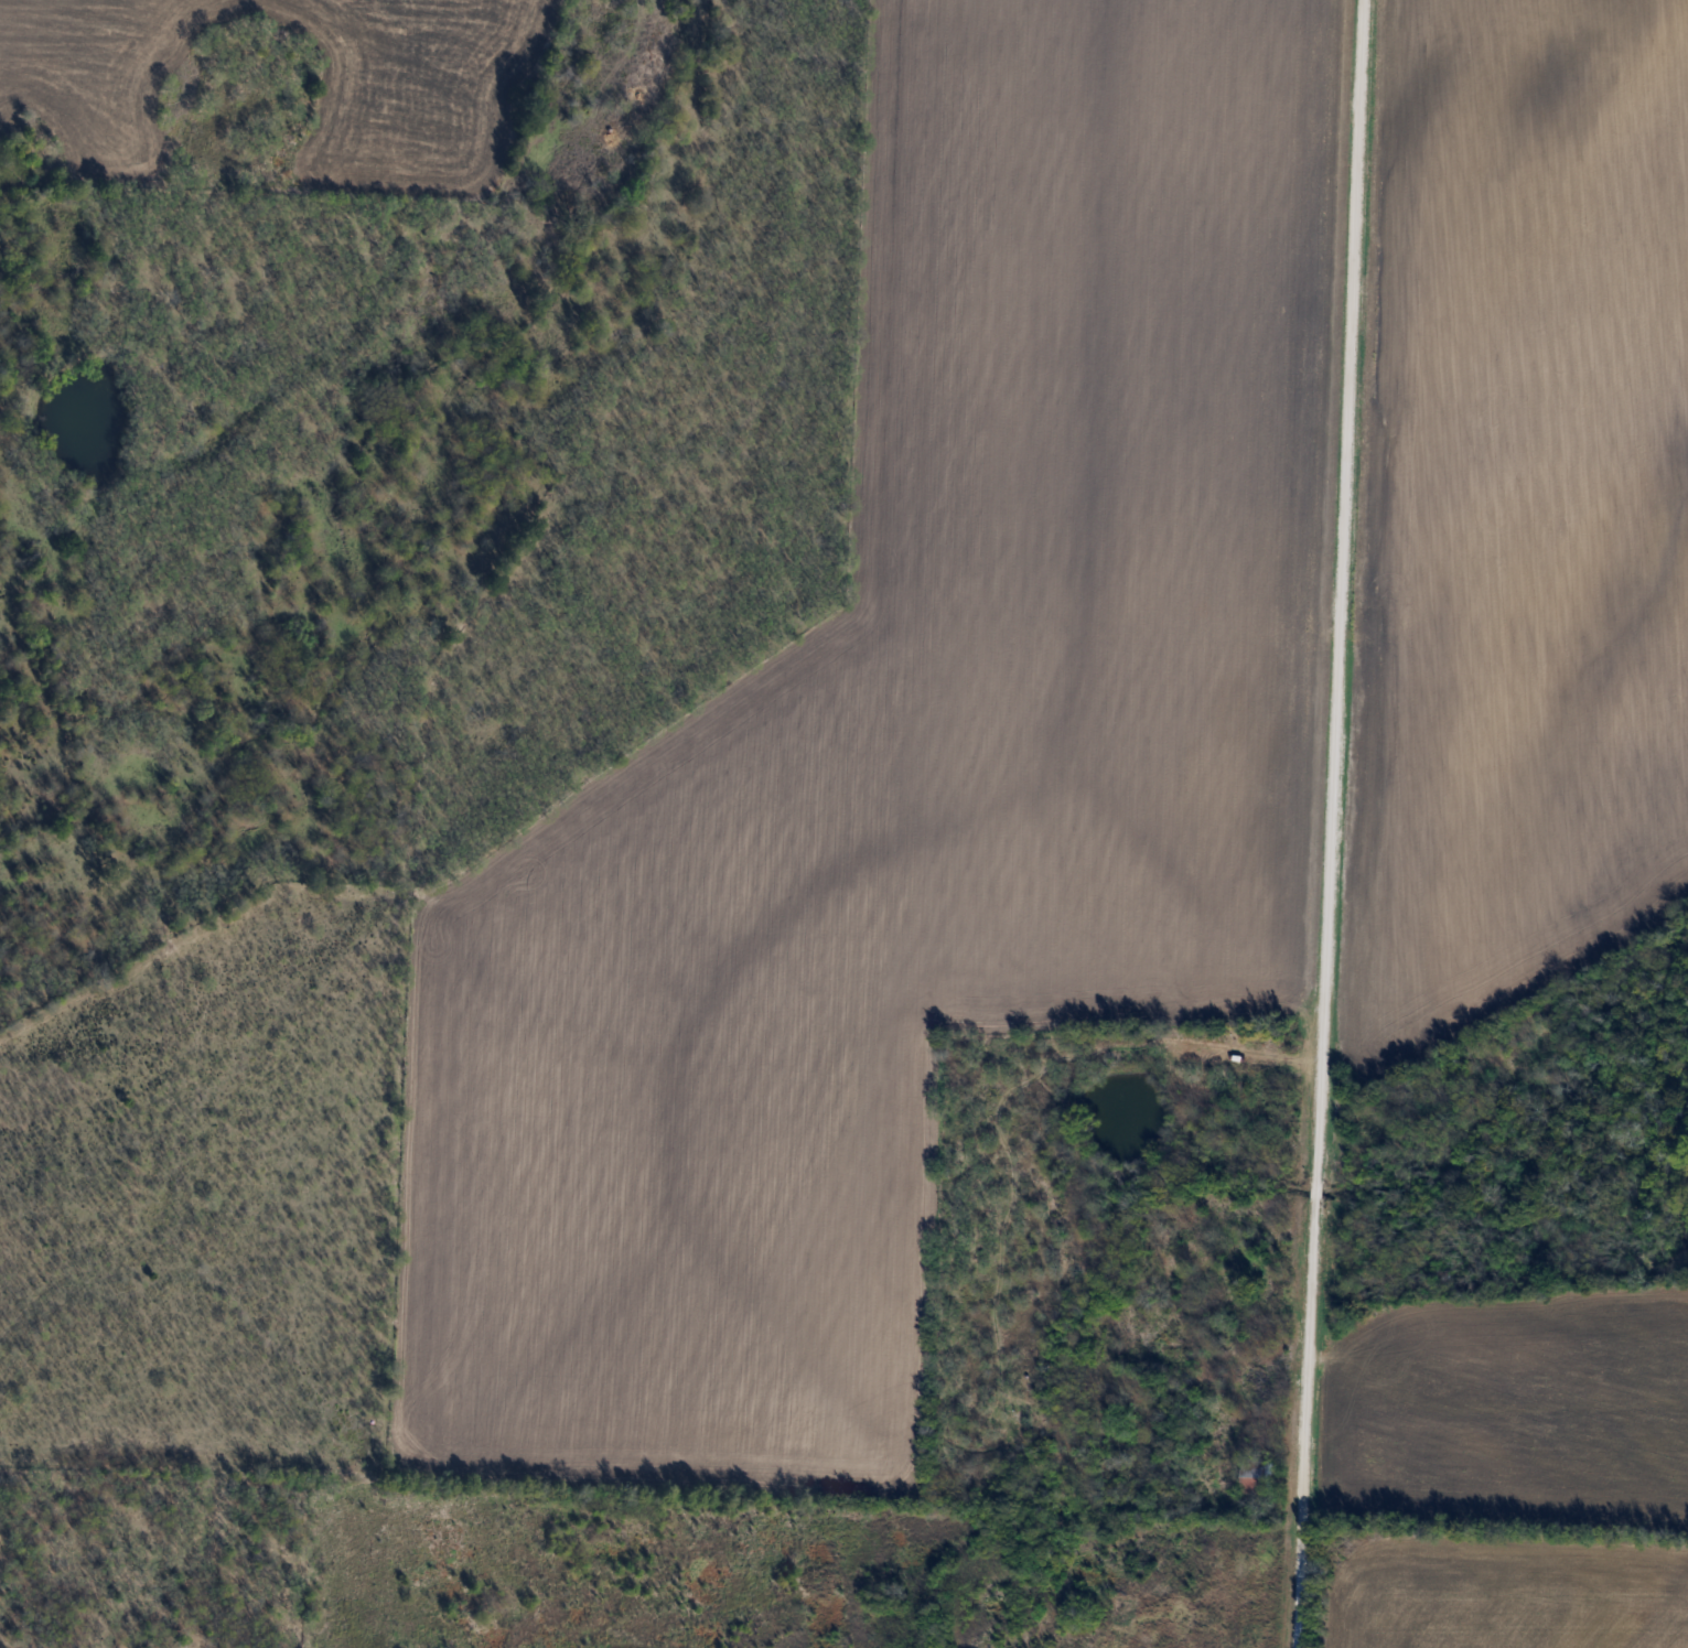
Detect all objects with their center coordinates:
road: (1327, 823)
building: (1257, 1477)

